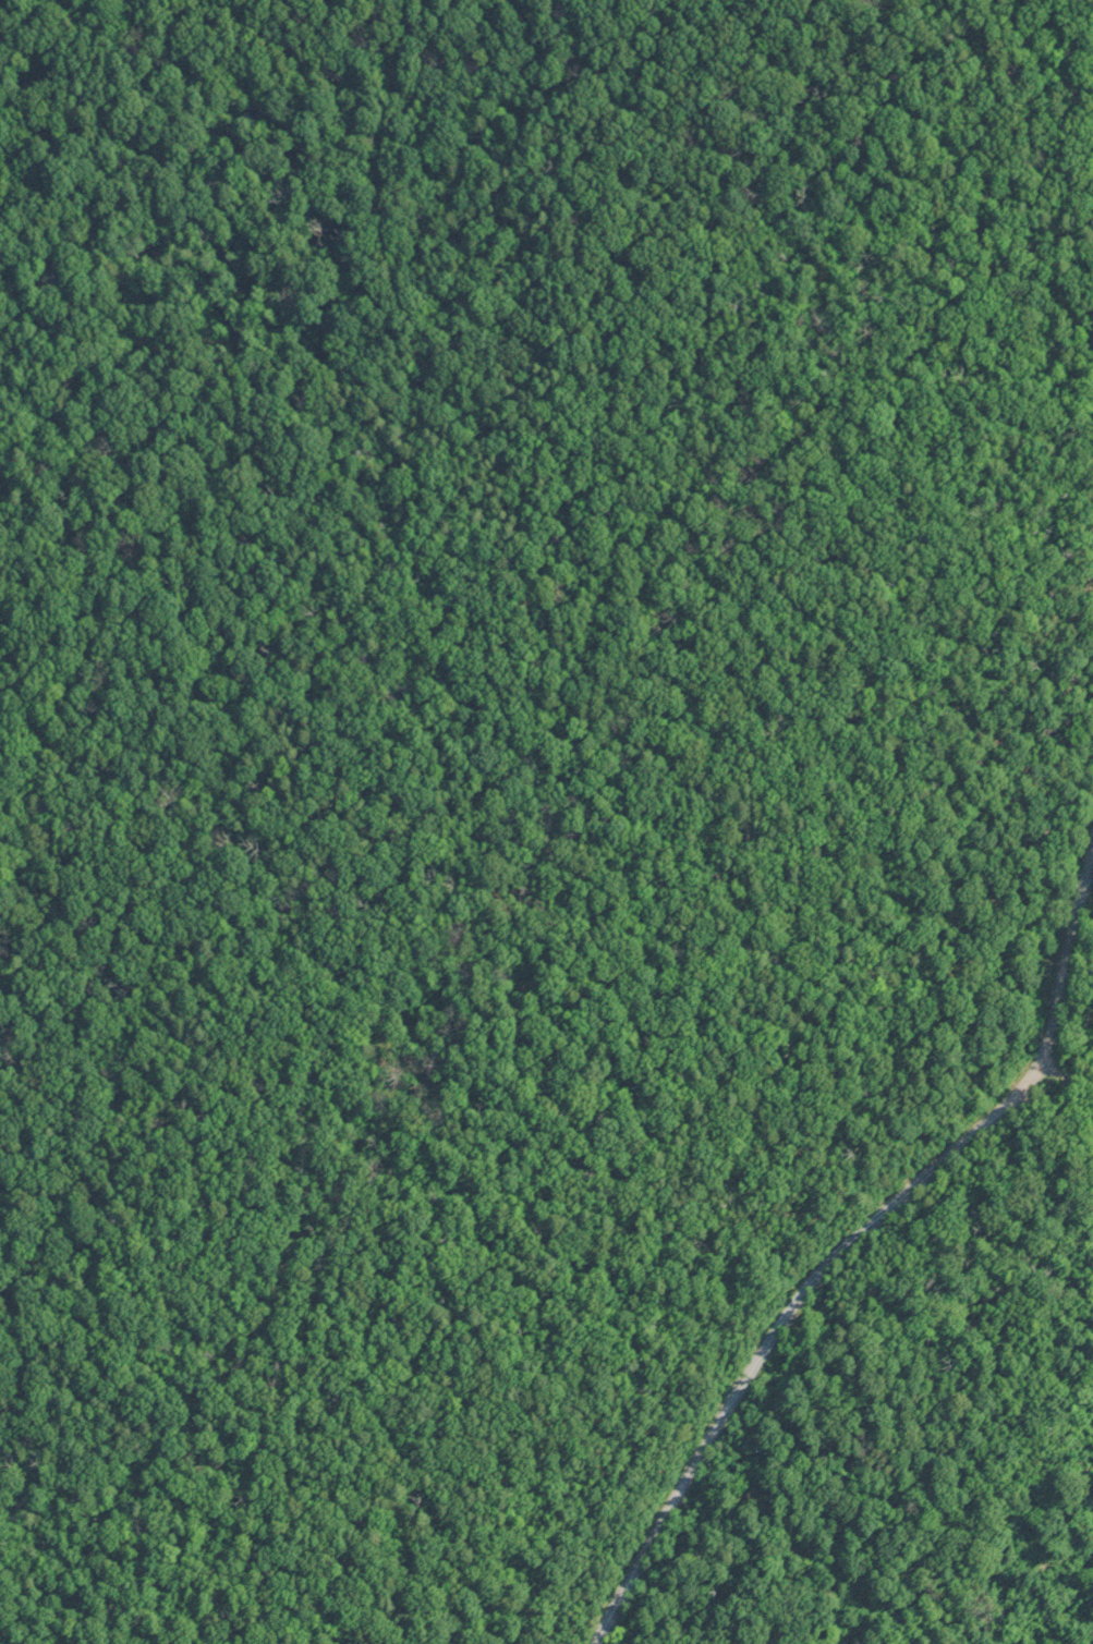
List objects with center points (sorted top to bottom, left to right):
road: (603, 803)
road: (850, 1240)

